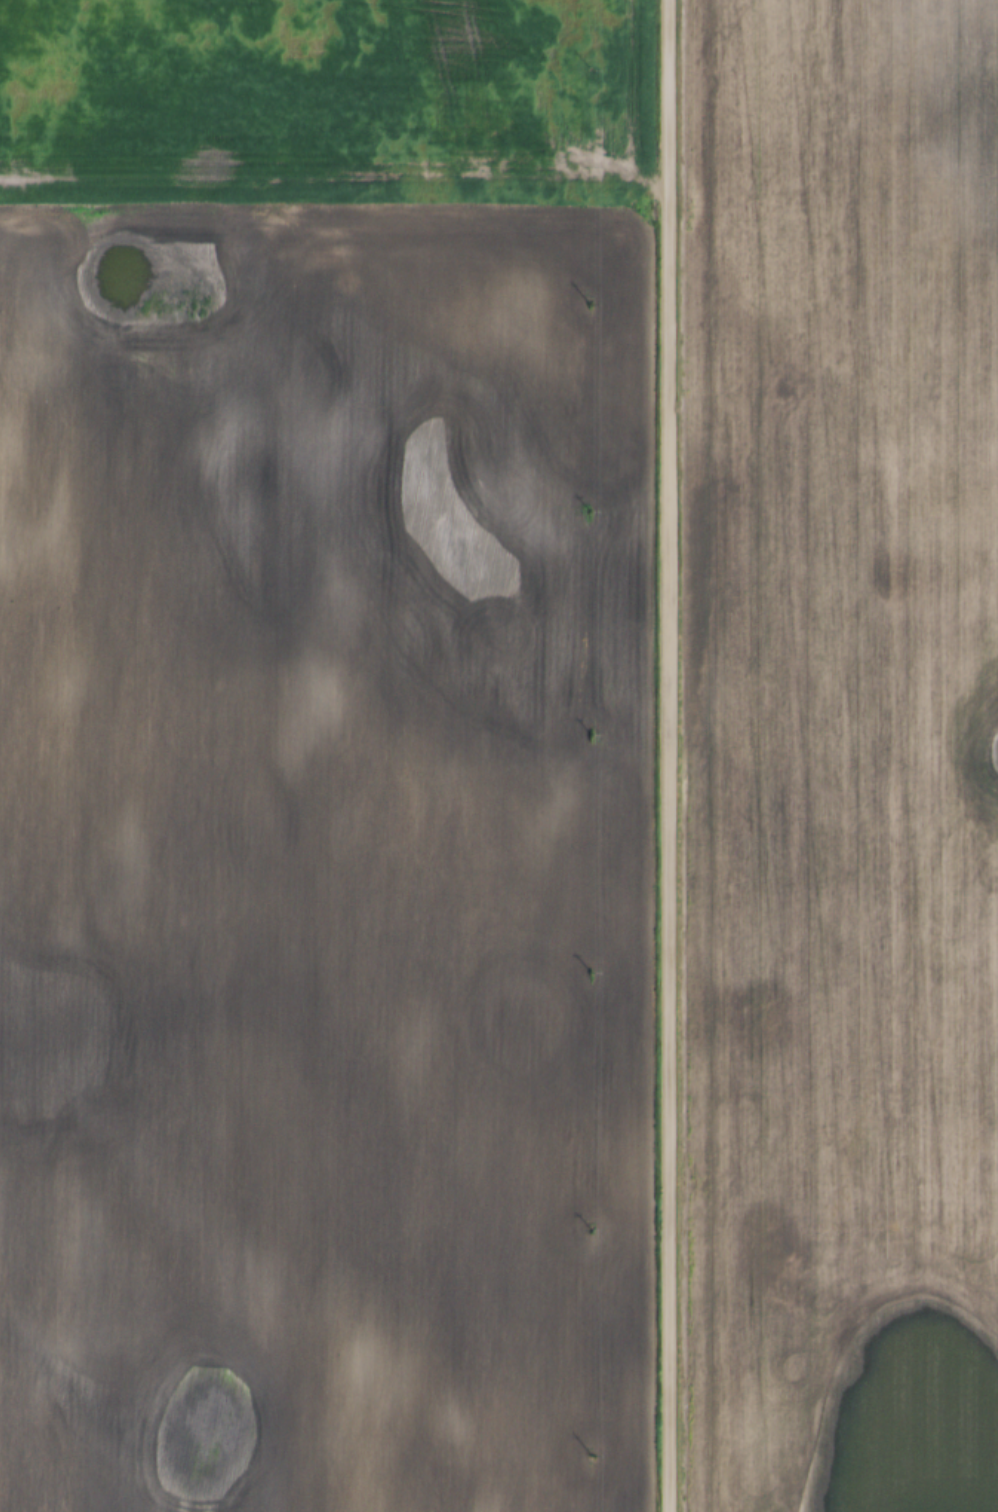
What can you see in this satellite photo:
road: (663, 755)

